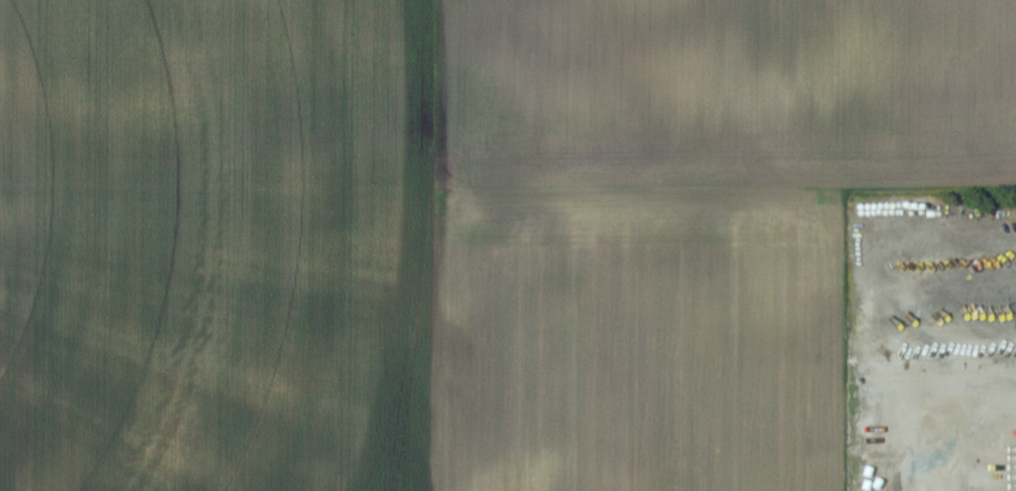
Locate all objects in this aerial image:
building: (900, 469)

